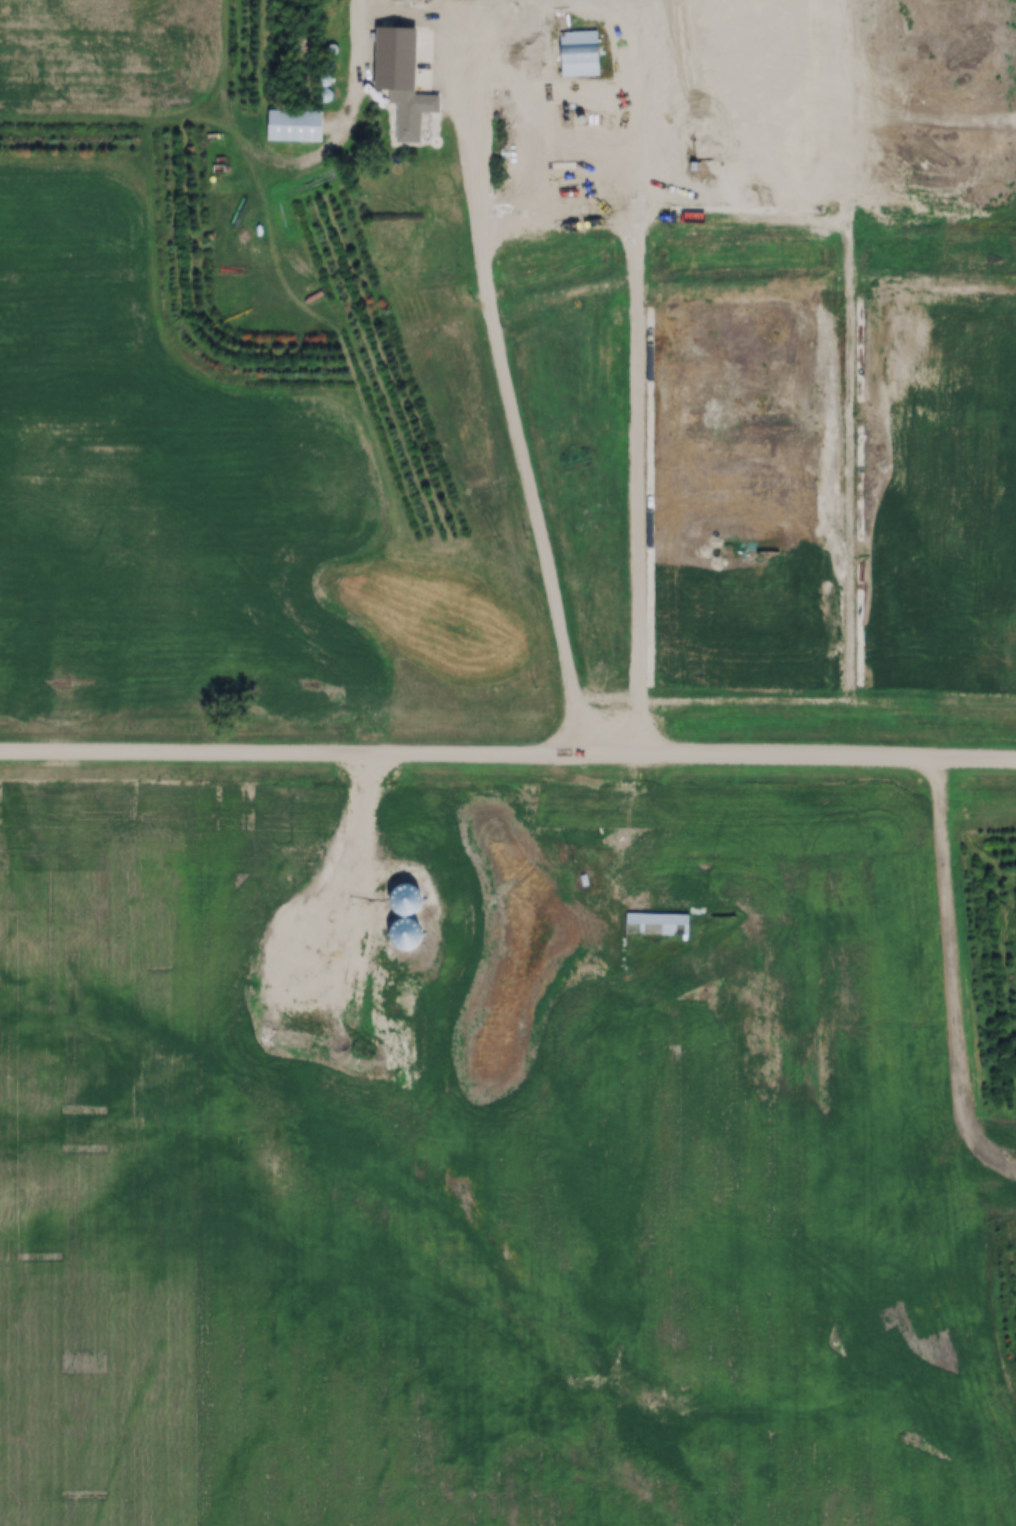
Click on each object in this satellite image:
building: (580, 54)
building: (382, 57)
building: (679, 95)
building: (411, 113)
building: (294, 127)
road: (583, 293)
road: (493, 310)
road: (664, 649)
road: (508, 755)
building: (657, 925)

